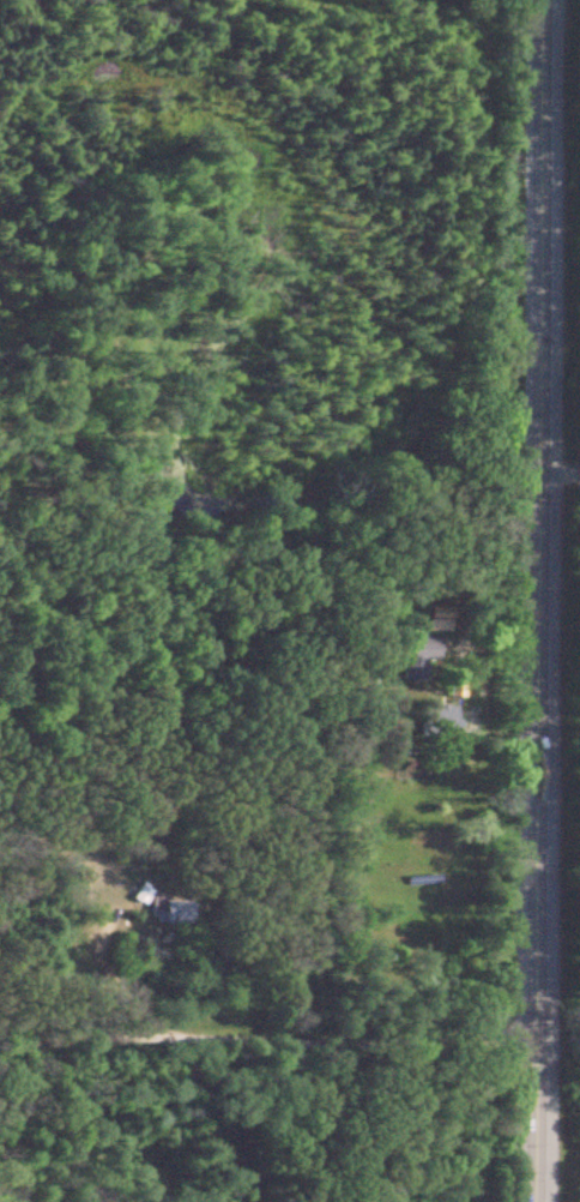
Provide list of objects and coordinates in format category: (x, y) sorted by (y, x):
road: (561, 464)
road: (537, 601)
building: (406, 654)
building: (162, 910)
road: (261, 1034)
road: (62, 1138)
road: (300, 1149)

